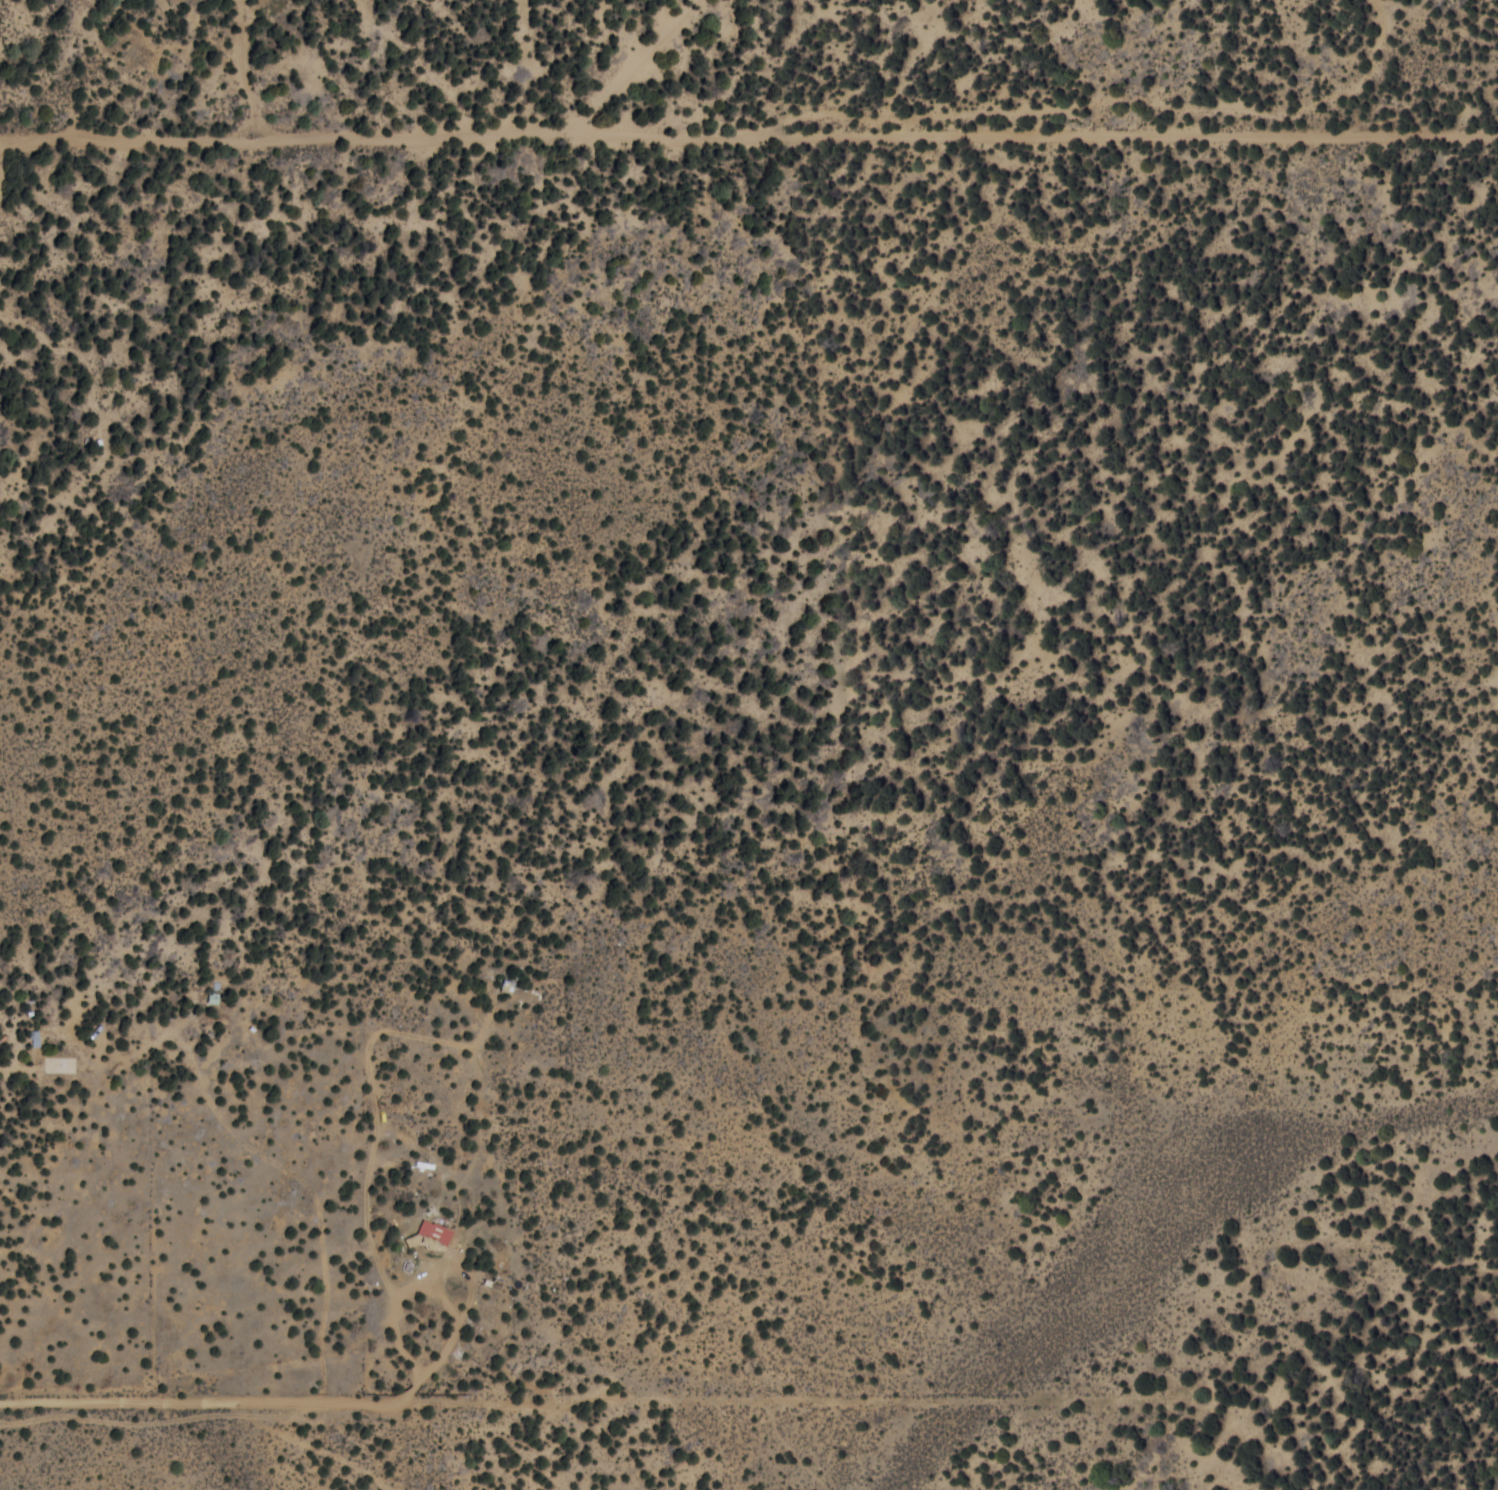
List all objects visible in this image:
building: (171, 1)
road: (1210, 881)
building: (35, 1037)
road: (863, 1061)
road: (984, 1078)
building: (435, 1231)
building: (411, 1240)
road: (1475, 1303)

